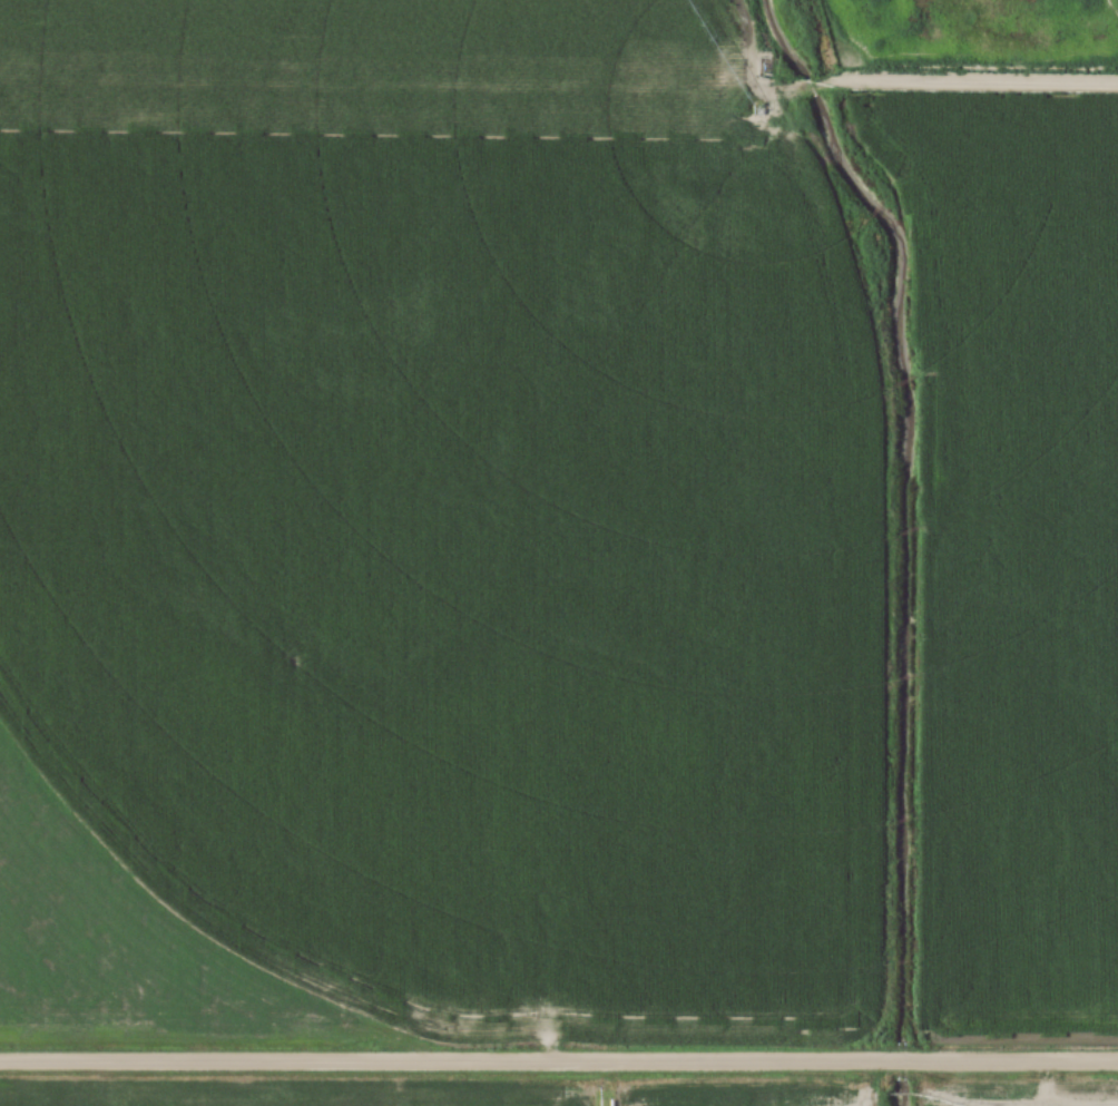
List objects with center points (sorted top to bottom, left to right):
road: (559, 1064)

